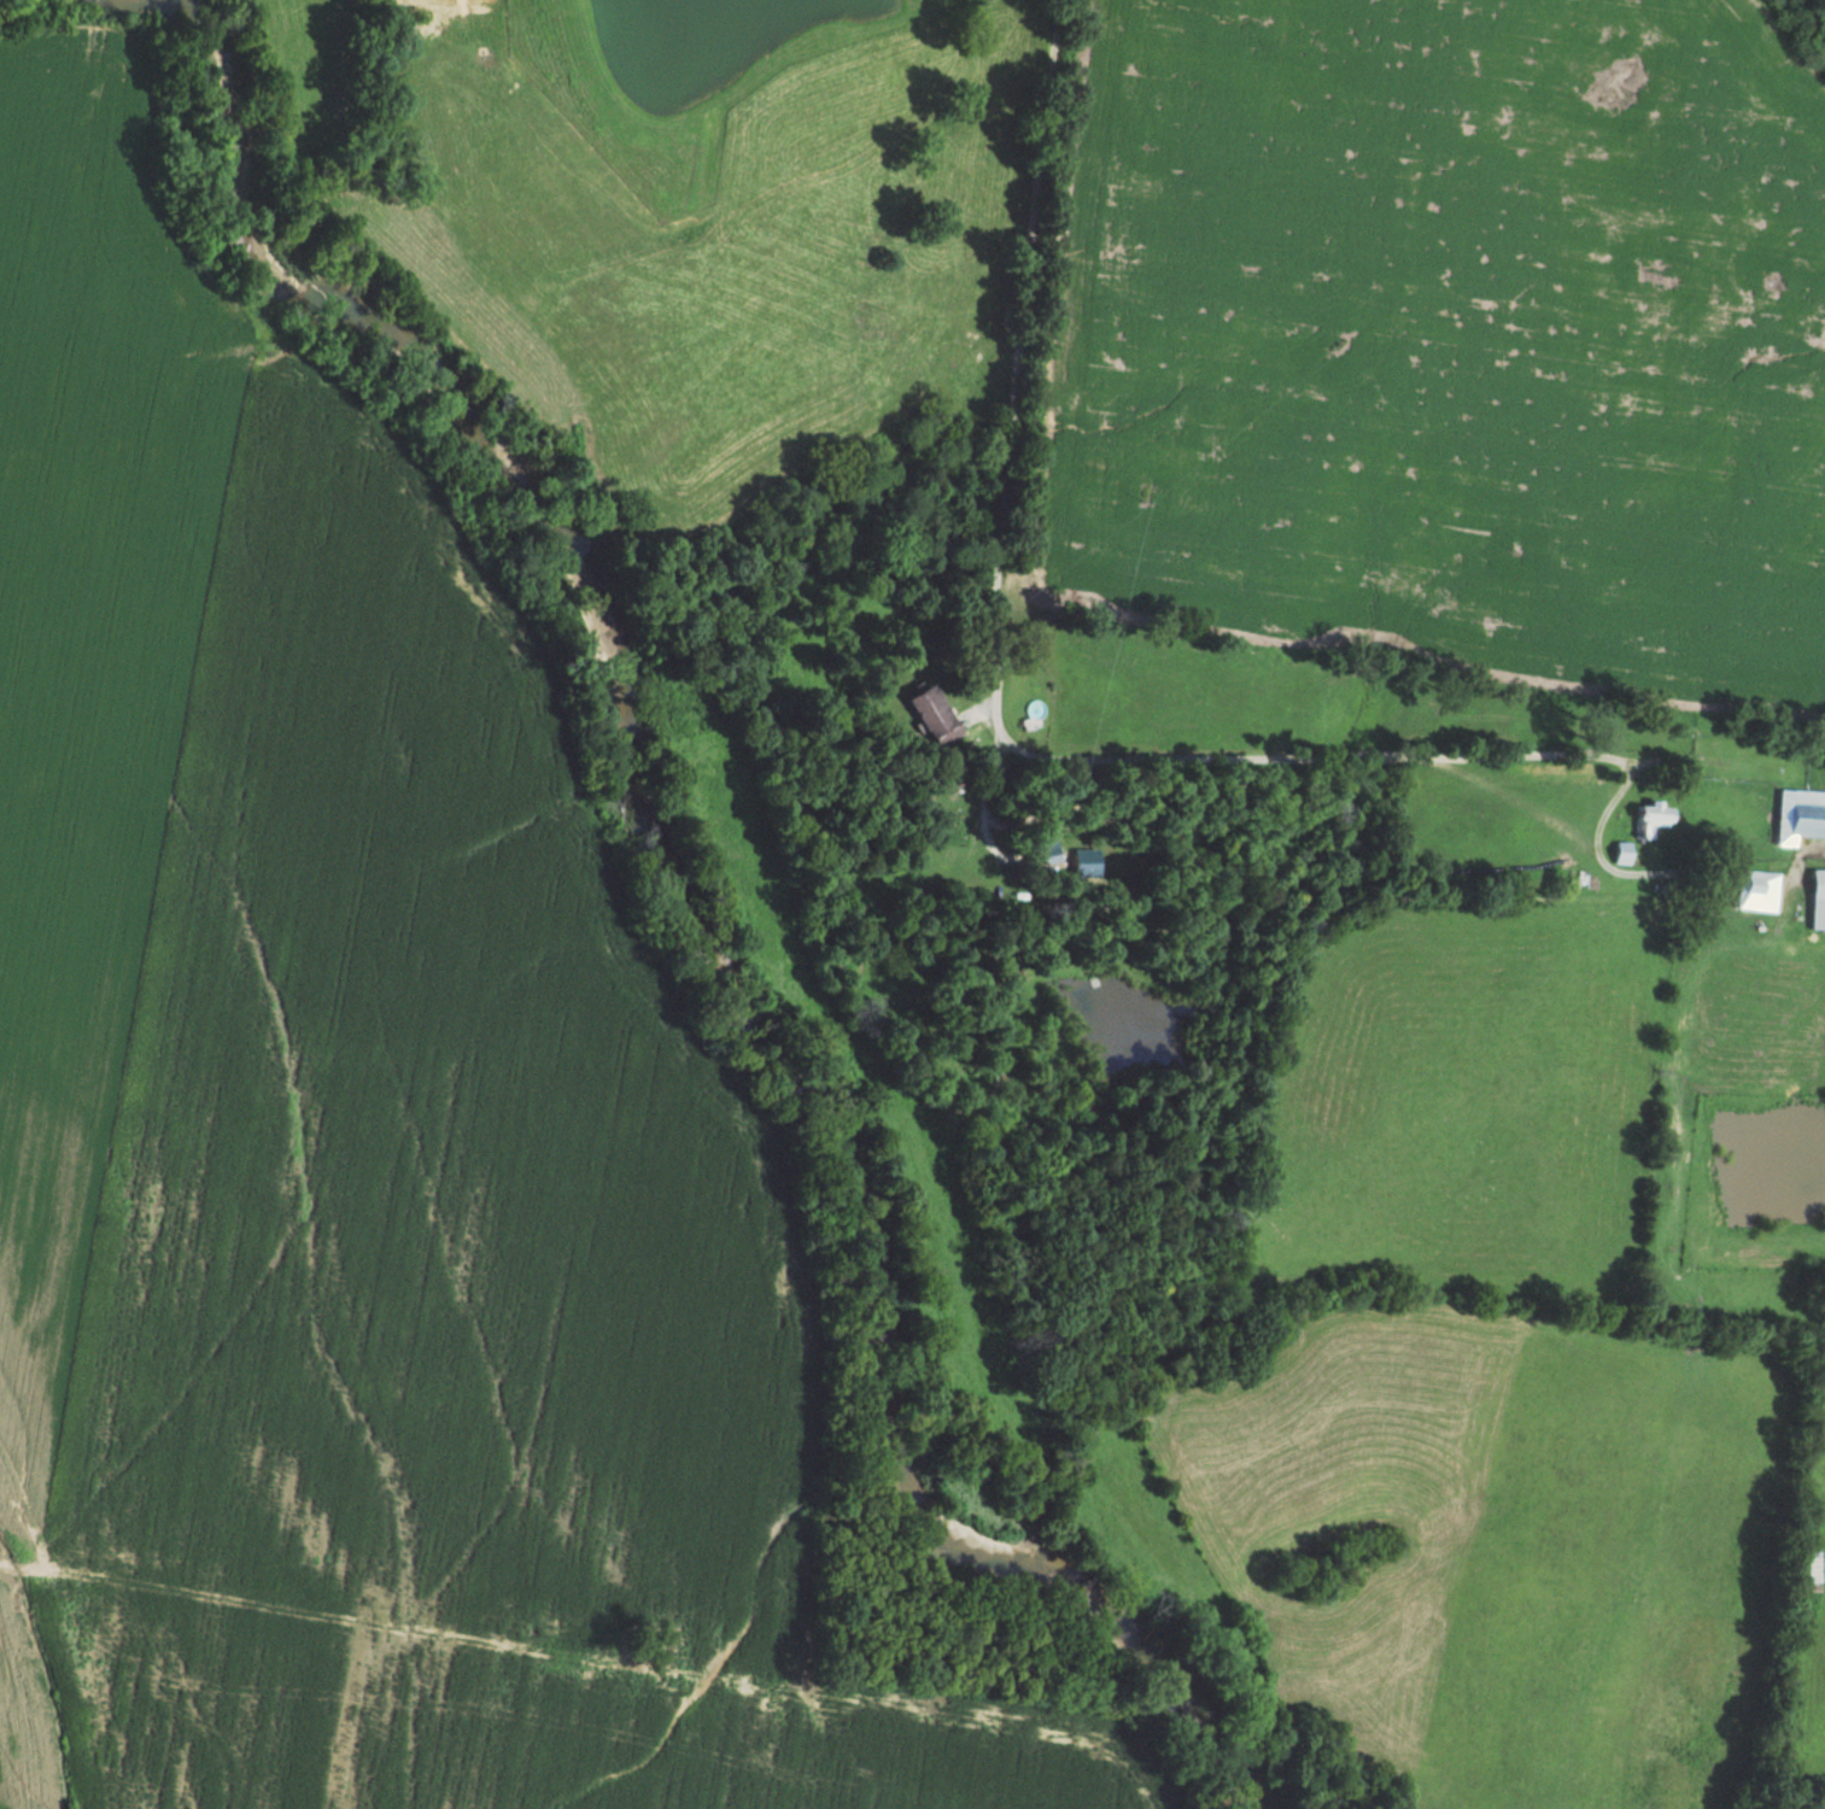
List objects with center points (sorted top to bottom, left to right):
road: (1001, 702)
building: (935, 712)
building: (1801, 814)
building: (1659, 815)
building: (1625, 850)
building: (1754, 884)
building: (1820, 898)

